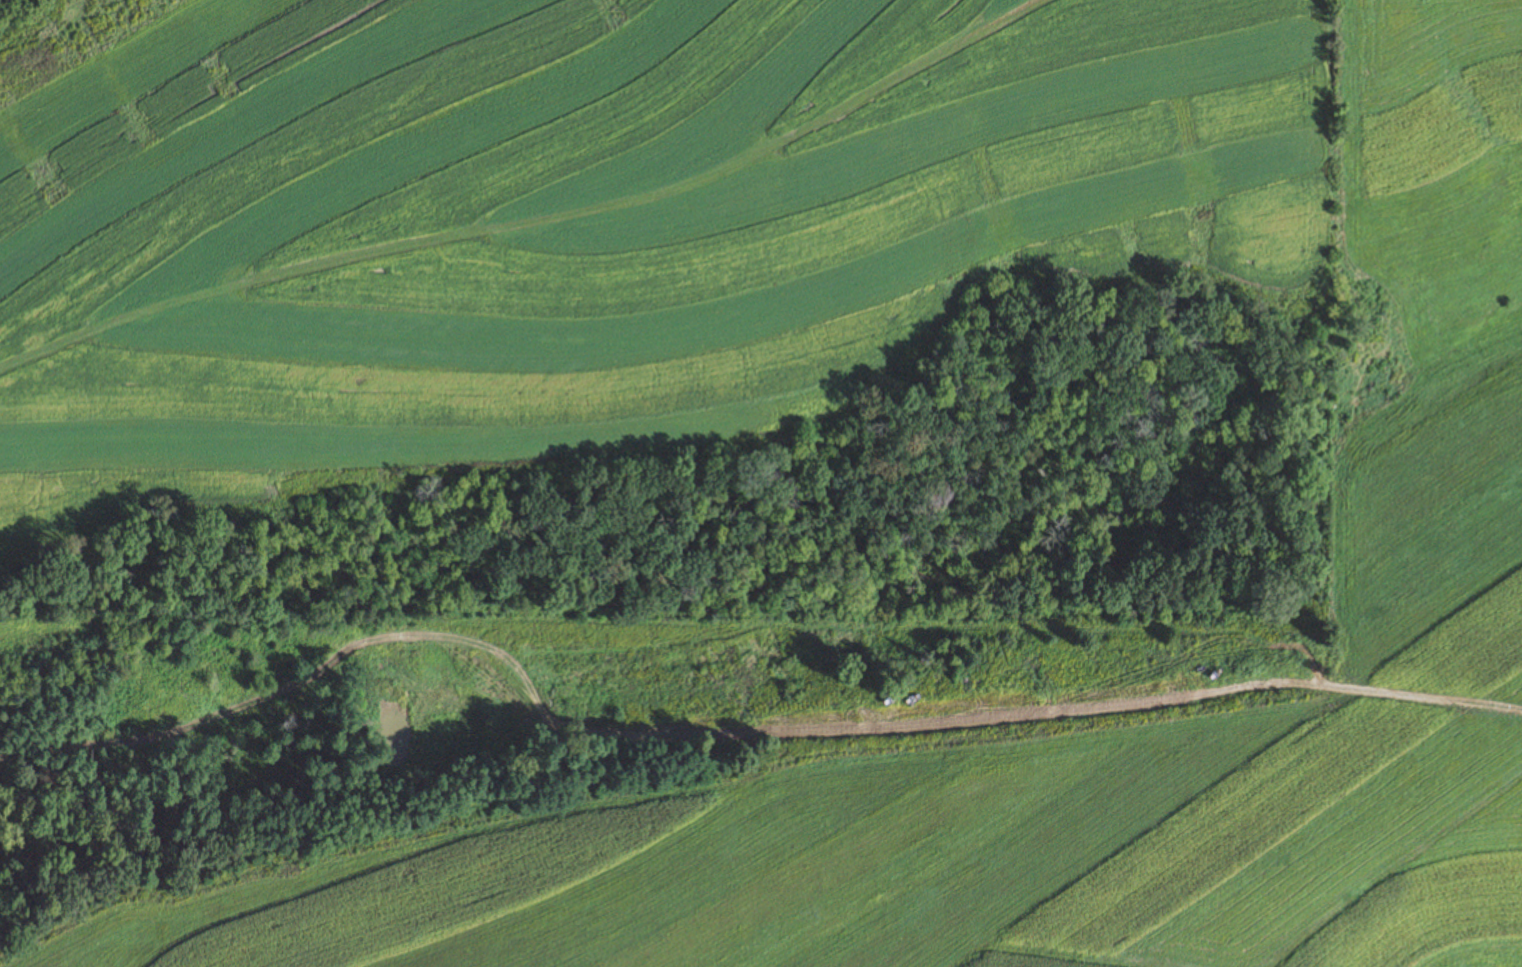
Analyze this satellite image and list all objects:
road: (1513, 691)

